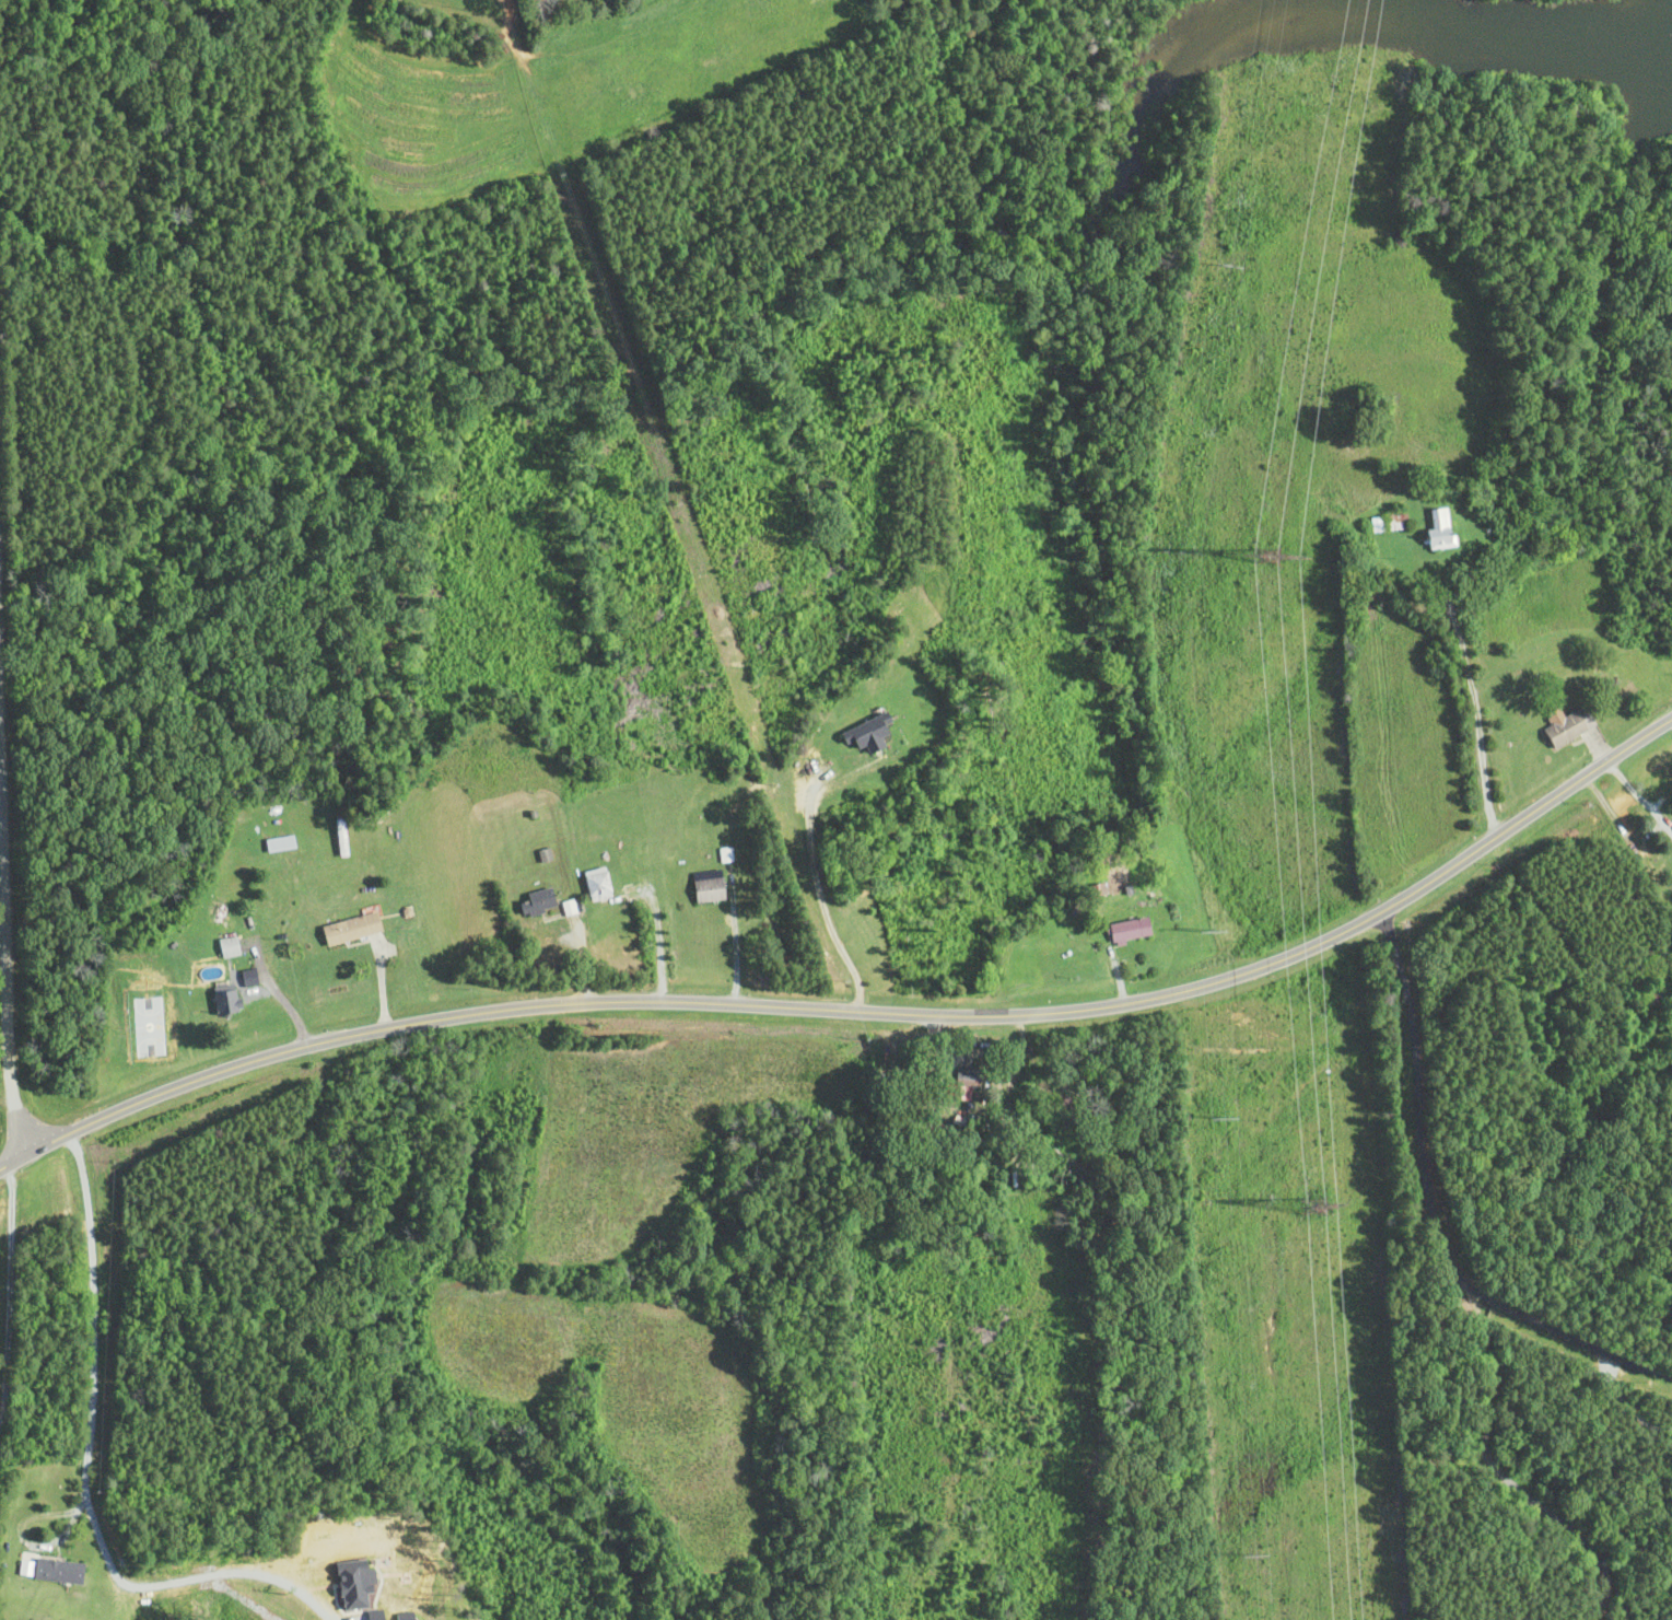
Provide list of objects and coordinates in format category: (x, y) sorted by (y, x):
power tower: (1227, 265)
building: (1388, 524)
building: (1441, 529)
power tower: (1173, 552)
power tower: (1276, 552)
road: (1472, 722)
building: (1569, 726)
building: (872, 735)
building: (341, 839)
building: (281, 844)
building: (598, 884)
building: (711, 890)
building: (539, 904)
road: (11, 905)
building: (569, 908)
building: (354, 930)
building: (1132, 930)
power tower: (1208, 931)
building: (230, 944)
building: (229, 1001)
road: (860, 1015)
building: (968, 1076)
road: (1412, 1110)
power tower: (1228, 1116)
power tower: (1316, 1198)
power tower: (1255, 1557)
building: (52, 1571)

